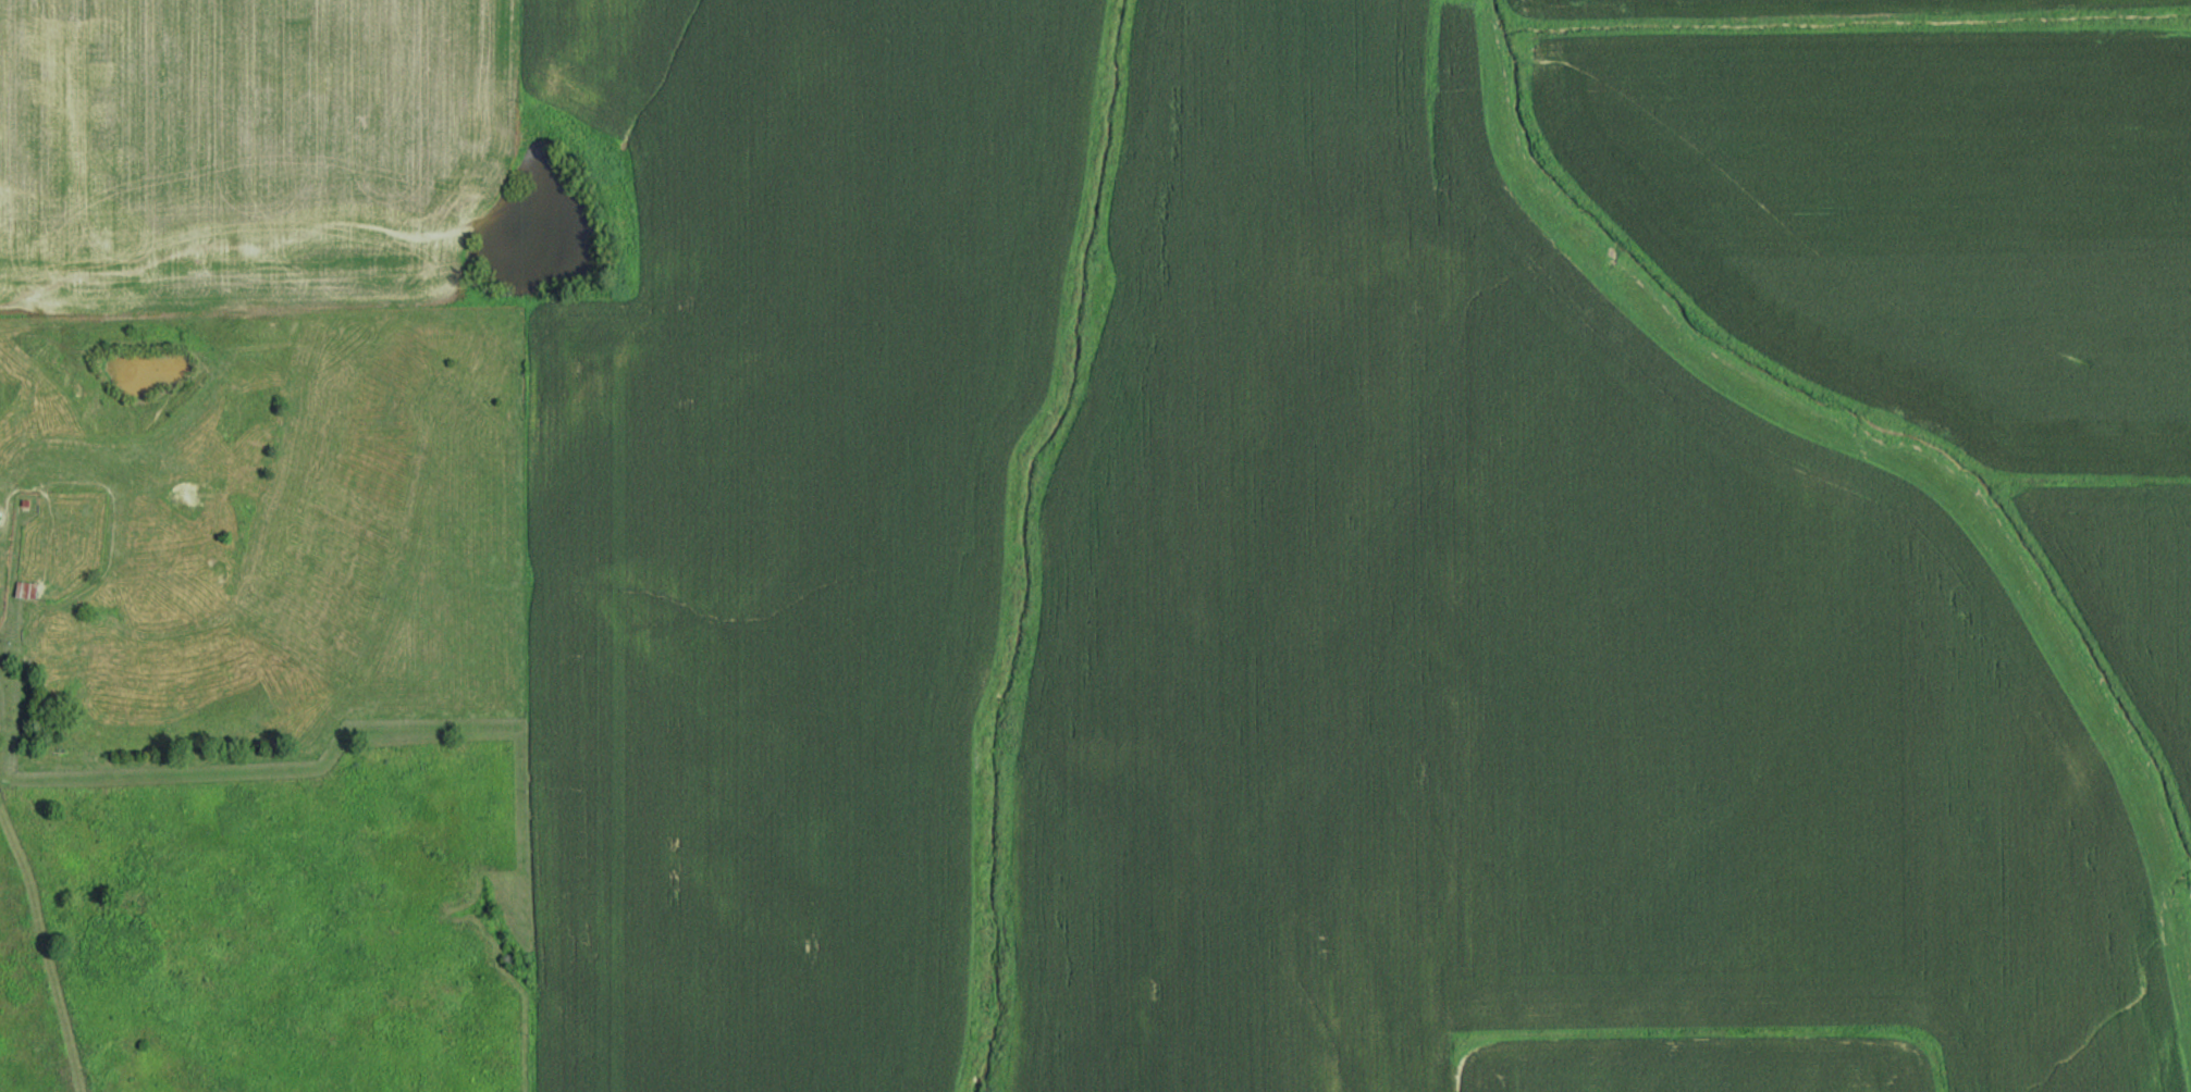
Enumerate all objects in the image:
building: (25, 590)

